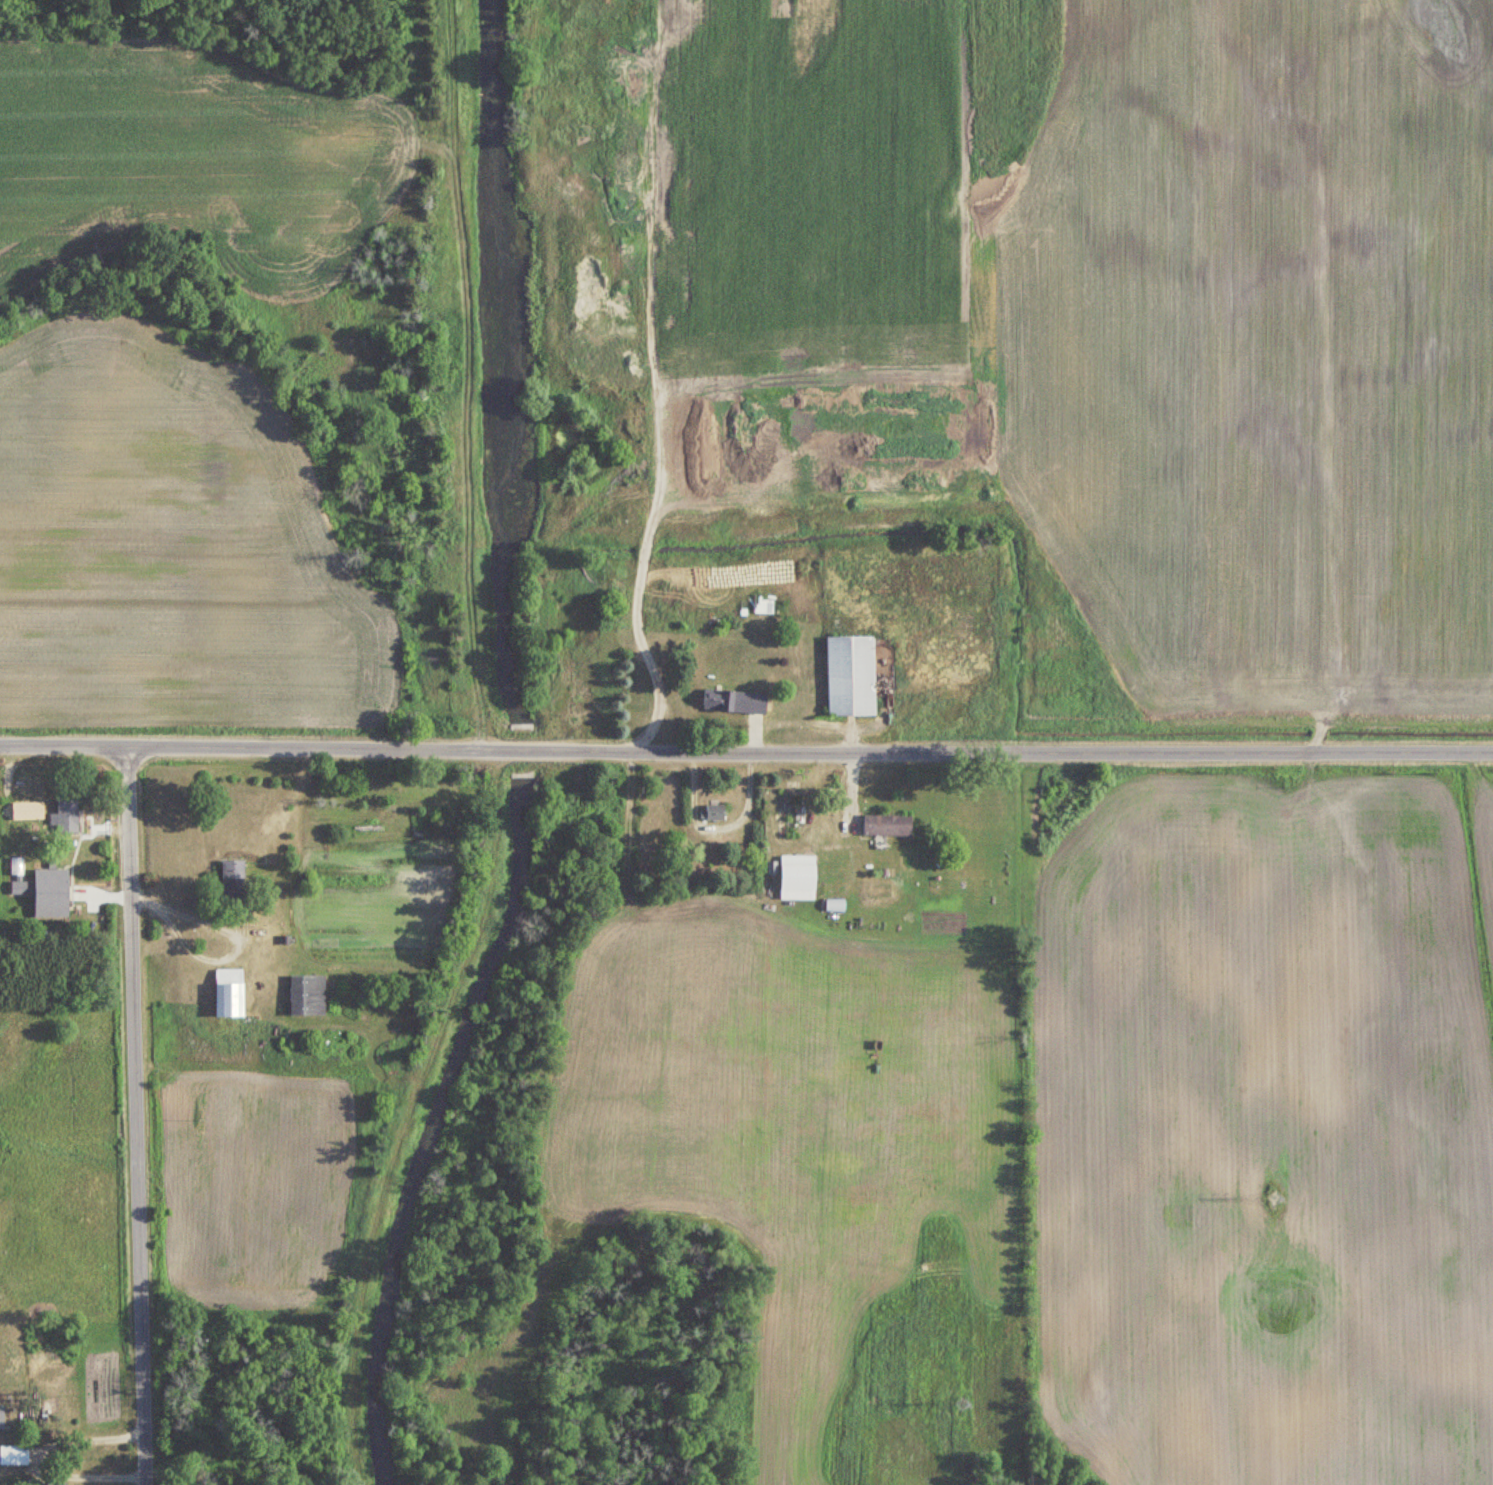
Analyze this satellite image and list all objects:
road: (636, 618)
building: (852, 675)
building: (735, 701)
road: (746, 747)
building: (716, 812)
building: (68, 815)
building: (888, 825)
building: (235, 882)
building: (52, 893)
building: (836, 906)
building: (231, 992)
building: (308, 995)
road: (134, 1116)
power tower: (1274, 1197)
power tower: (962, 1403)
building: (2, 1418)
building: (14, 1455)
building: (57, 1483)

